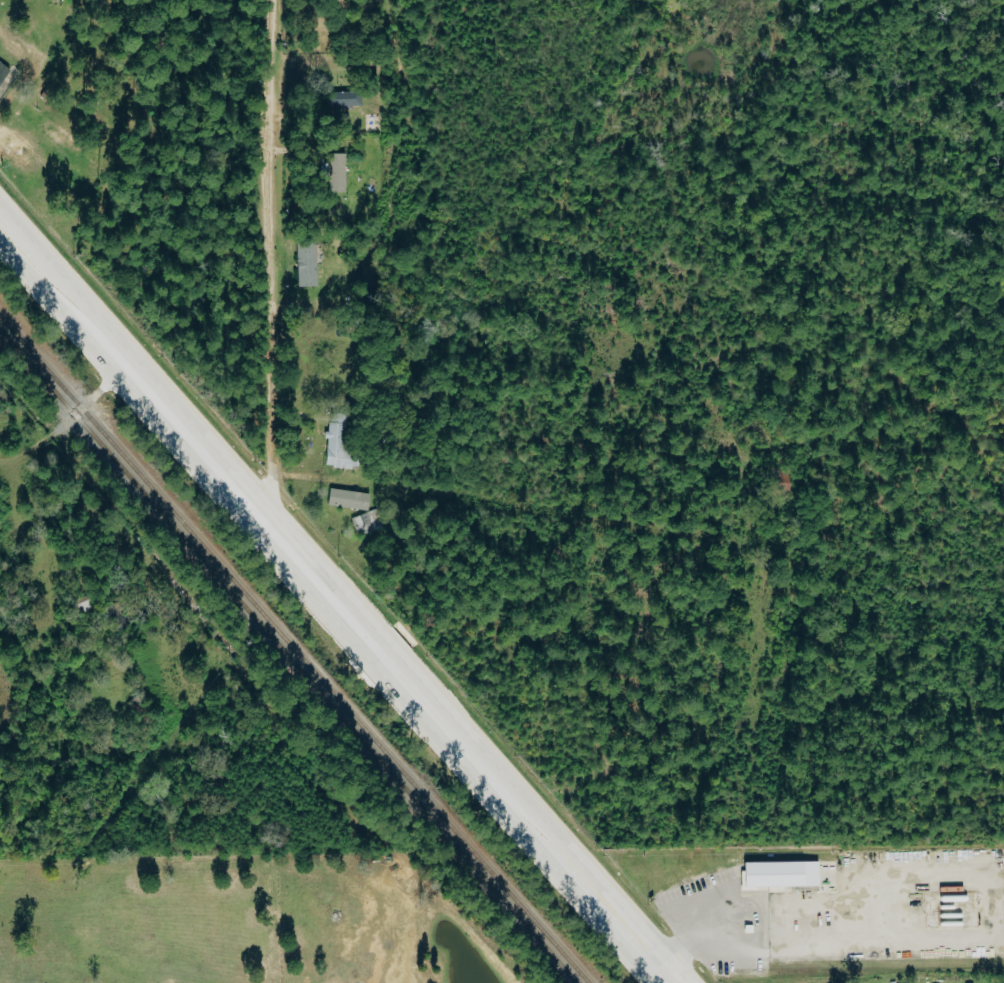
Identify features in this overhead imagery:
building: (2, 70)
building: (342, 98)
road: (12, 99)
building: (334, 172)
building: (304, 263)
road: (267, 270)
road: (64, 424)
building: (333, 444)
building: (346, 499)
building: (362, 523)
building: (81, 603)
road: (328, 611)
railway: (293, 650)
railway: (288, 657)
building: (777, 875)
road: (691, 943)

